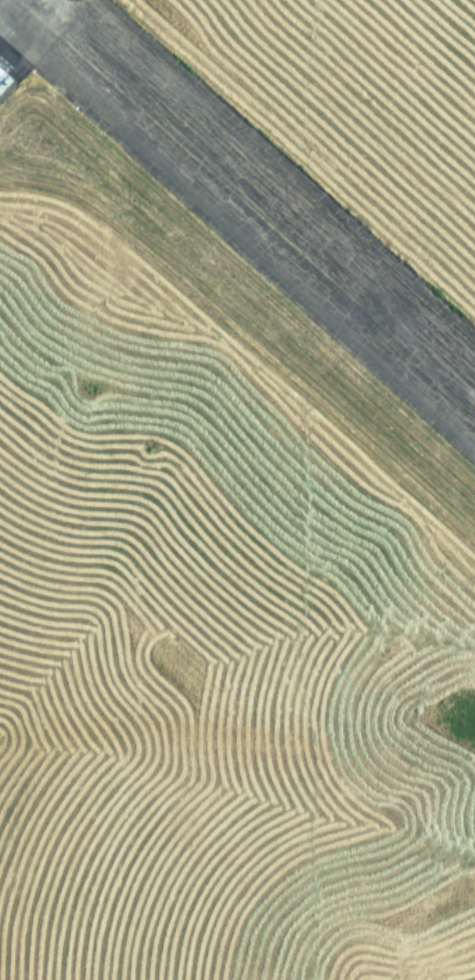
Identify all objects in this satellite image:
building: (0, 68)
crop: (350, 112)
road: (242, 205)
airport: (237, 490)
crop: (213, 606)

